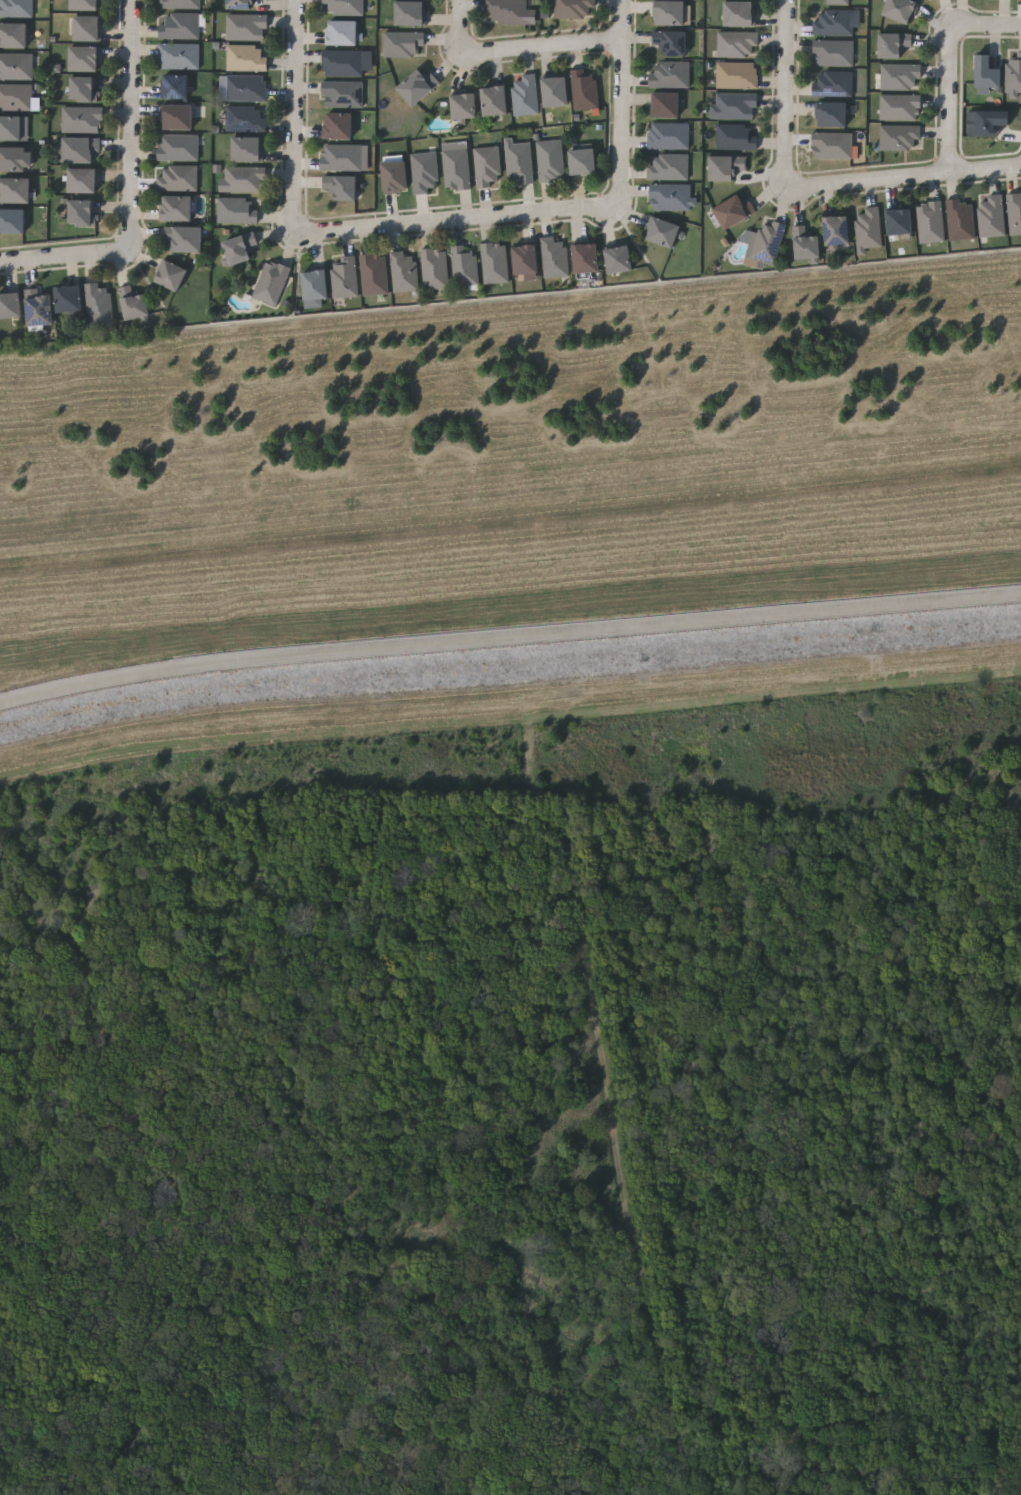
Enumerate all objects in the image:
building: (839, 2)
building: (180, 4)
building: (240, 4)
building: (85, 5)
building: (344, 6)
building: (16, 8)
building: (574, 8)
building: (901, 10)
building: (510, 12)
building: (670, 13)
building: (411, 14)
building: (740, 14)
building: (834, 22)
road: (996, 24)
building: (179, 26)
road: (460, 26)
building: (246, 27)
building: (87, 28)
building: (342, 33)
building: (13, 35)
building: (671, 42)
building: (404, 44)
building: (738, 44)
building: (894, 44)
road: (545, 47)
building: (834, 53)
building: (179, 55)
building: (246, 57)
building: (84, 59)
building: (343, 63)
building: (16, 66)
building: (1019, 72)
building: (669, 74)
building: (737, 75)
building: (987, 75)
building: (1012, 76)
building: (901, 77)
building: (834, 83)
building: (175, 86)
building: (418, 86)
building: (246, 88)
building: (585, 88)
building: (82, 89)
building: (556, 92)
building: (343, 93)
road: (951, 94)
building: (526, 95)
building: (15, 96)
building: (495, 101)
road: (787, 101)
road: (623, 102)
building: (667, 105)
building: (464, 106)
building: (736, 106)
building: (900, 107)
building: (832, 115)
road: (296, 116)
building: (177, 117)
building: (246, 118)
building: (82, 119)
road: (131, 122)
building: (992, 122)
building: (338, 126)
building: (11, 128)
building: (669, 136)
building: (736, 136)
building: (900, 137)
building: (832, 145)
building: (178, 147)
building: (247, 148)
building: (80, 150)
building: (345, 157)
building: (15, 159)
building: (550, 160)
building: (518, 161)
building: (583, 161)
building: (456, 165)
building: (488, 166)
building: (726, 166)
building: (669, 167)
building: (425, 172)
building: (395, 177)
road: (913, 177)
building: (244, 179)
building: (83, 181)
building: (341, 186)
building: (15, 190)
building: (671, 196)
building: (177, 208)
building: (236, 210)
building: (734, 211)
building: (81, 212)
building: (1013, 213)
building: (1019, 214)
building: (991, 216)
building: (961, 219)
building: (12, 221)
road: (459, 221)
building: (930, 221)
building: (900, 222)
building: (869, 228)
building: (837, 230)
building: (664, 232)
building: (184, 239)
building: (765, 242)
building: (806, 244)
building: (240, 248)
road: (63, 256)
building: (554, 257)
building: (586, 258)
building: (619, 259)
building: (495, 261)
building: (526, 261)
building: (464, 264)
building: (434, 268)
building: (403, 271)
building: (374, 274)
building: (172, 276)
building: (344, 277)
building: (270, 283)
building: (315, 285)
building: (69, 299)
building: (98, 303)
building: (134, 303)
building: (10, 306)
building: (38, 308)
road: (509, 639)
park: (521, 1112)

